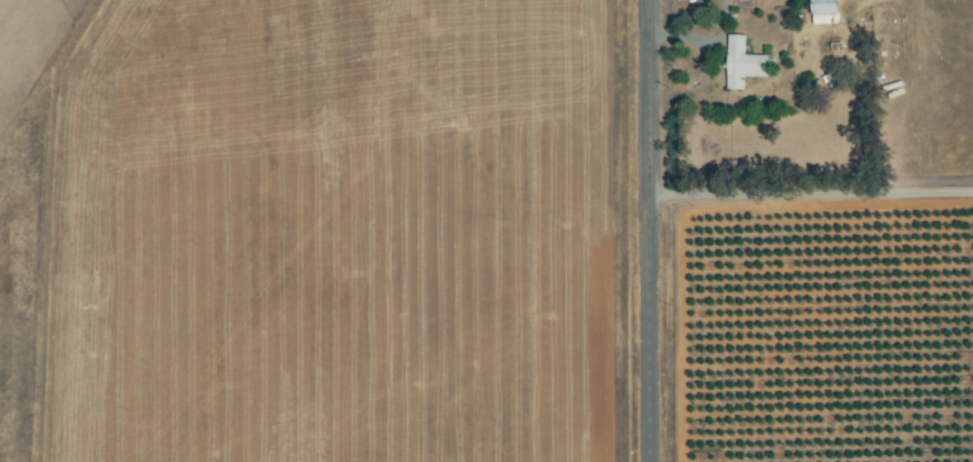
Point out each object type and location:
building: (828, 12)
building: (745, 64)
road: (810, 192)
road: (648, 230)

